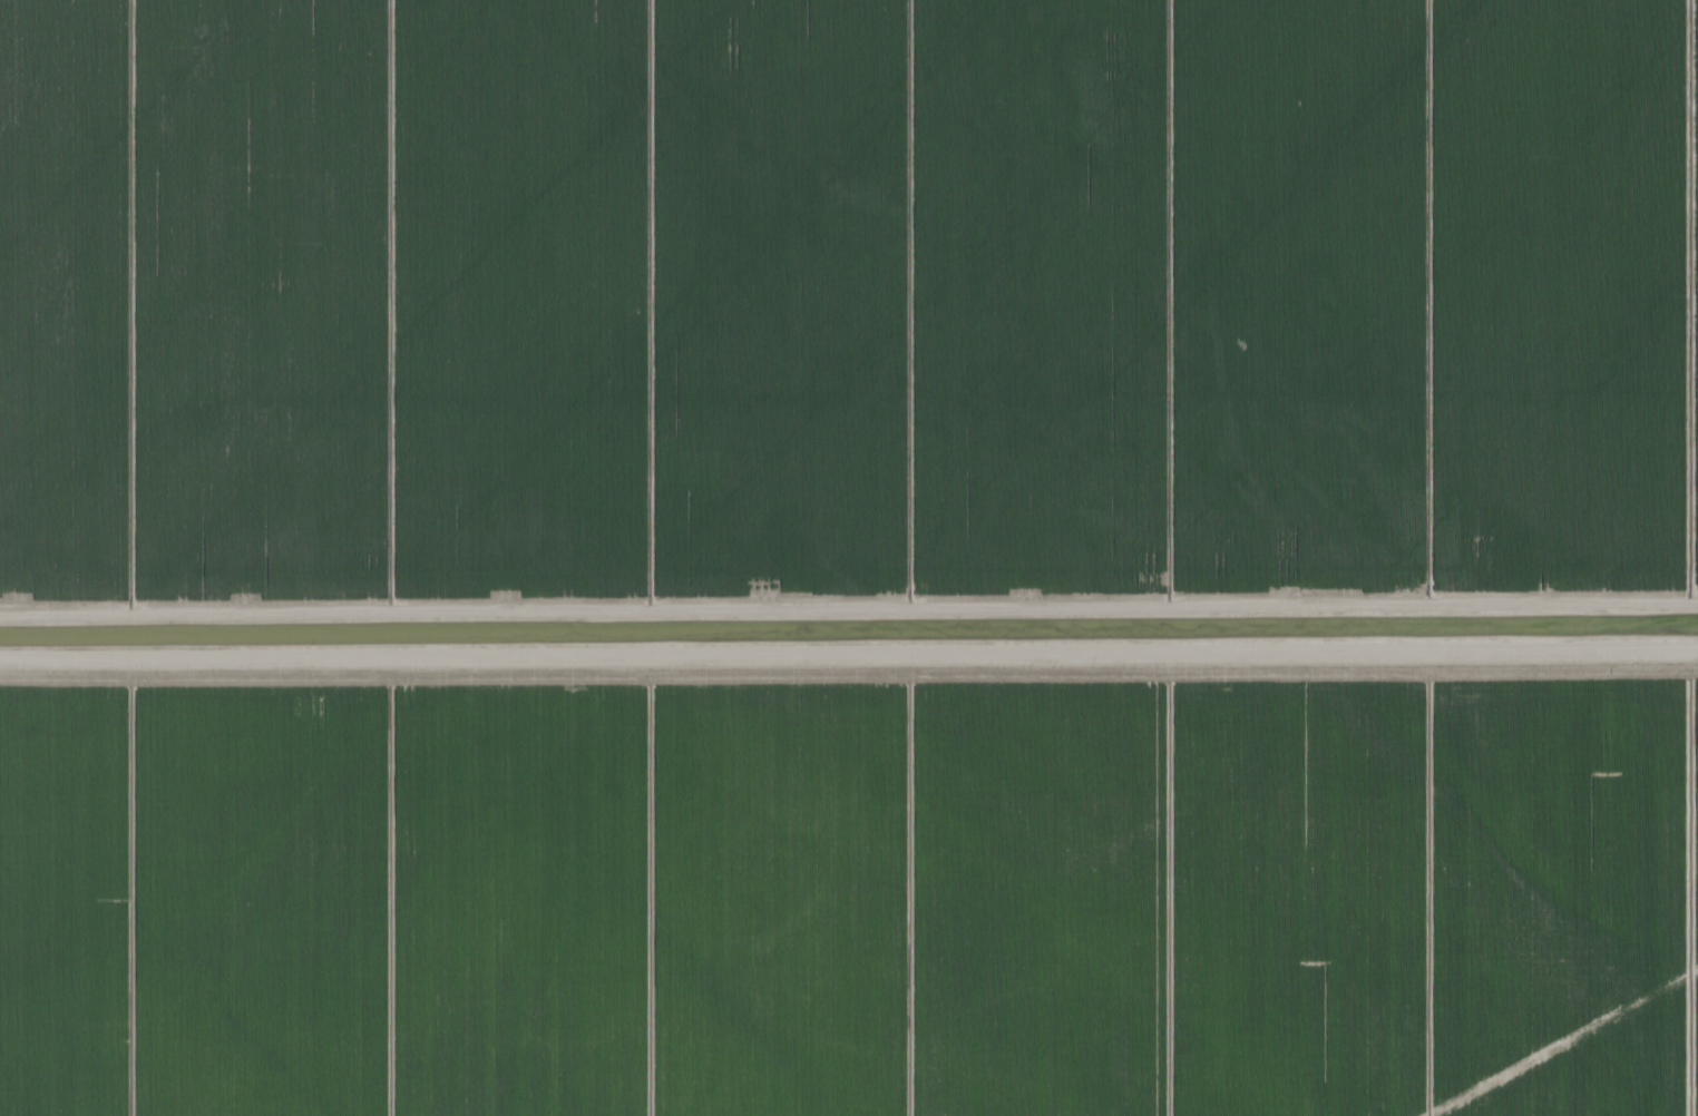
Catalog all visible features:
road: (849, 650)

